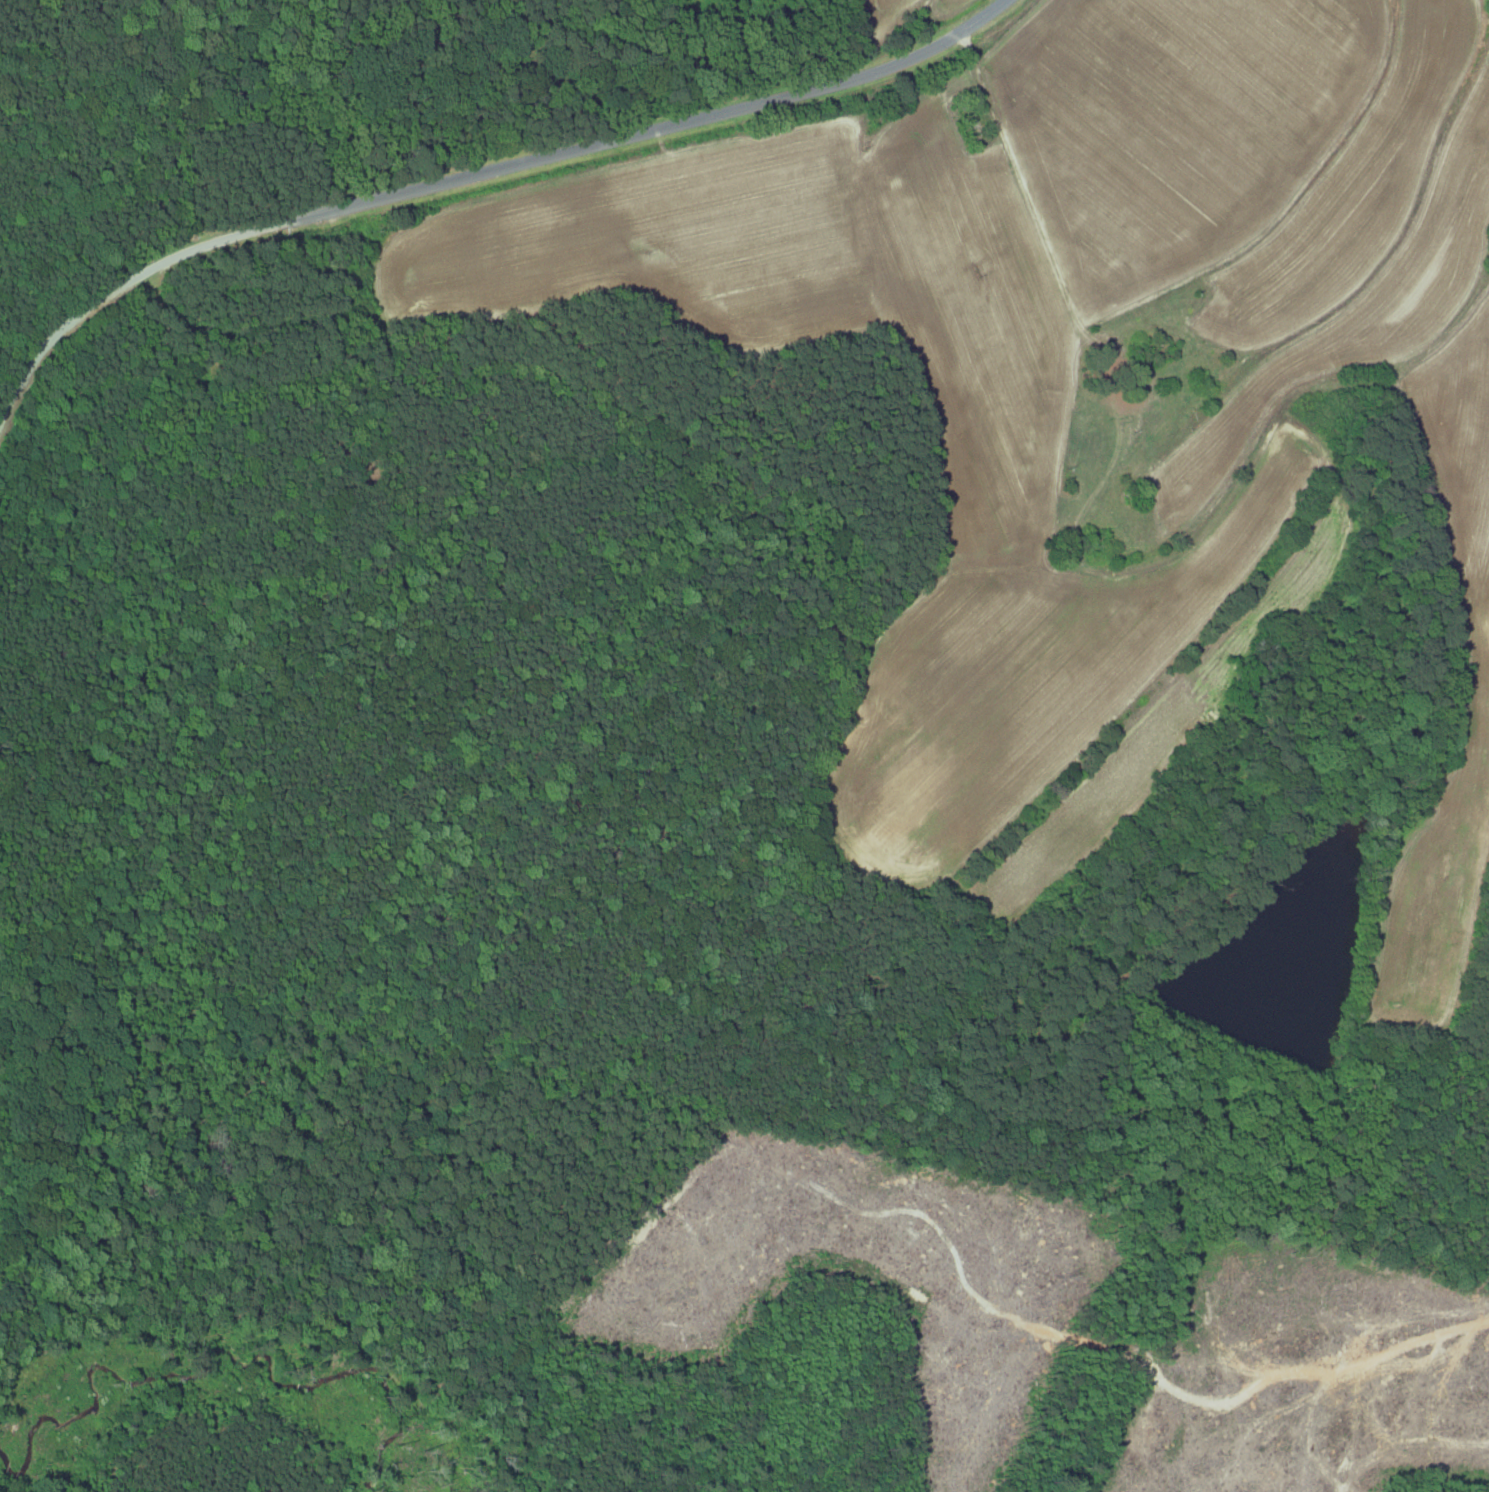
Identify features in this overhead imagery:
road: (474, 176)

